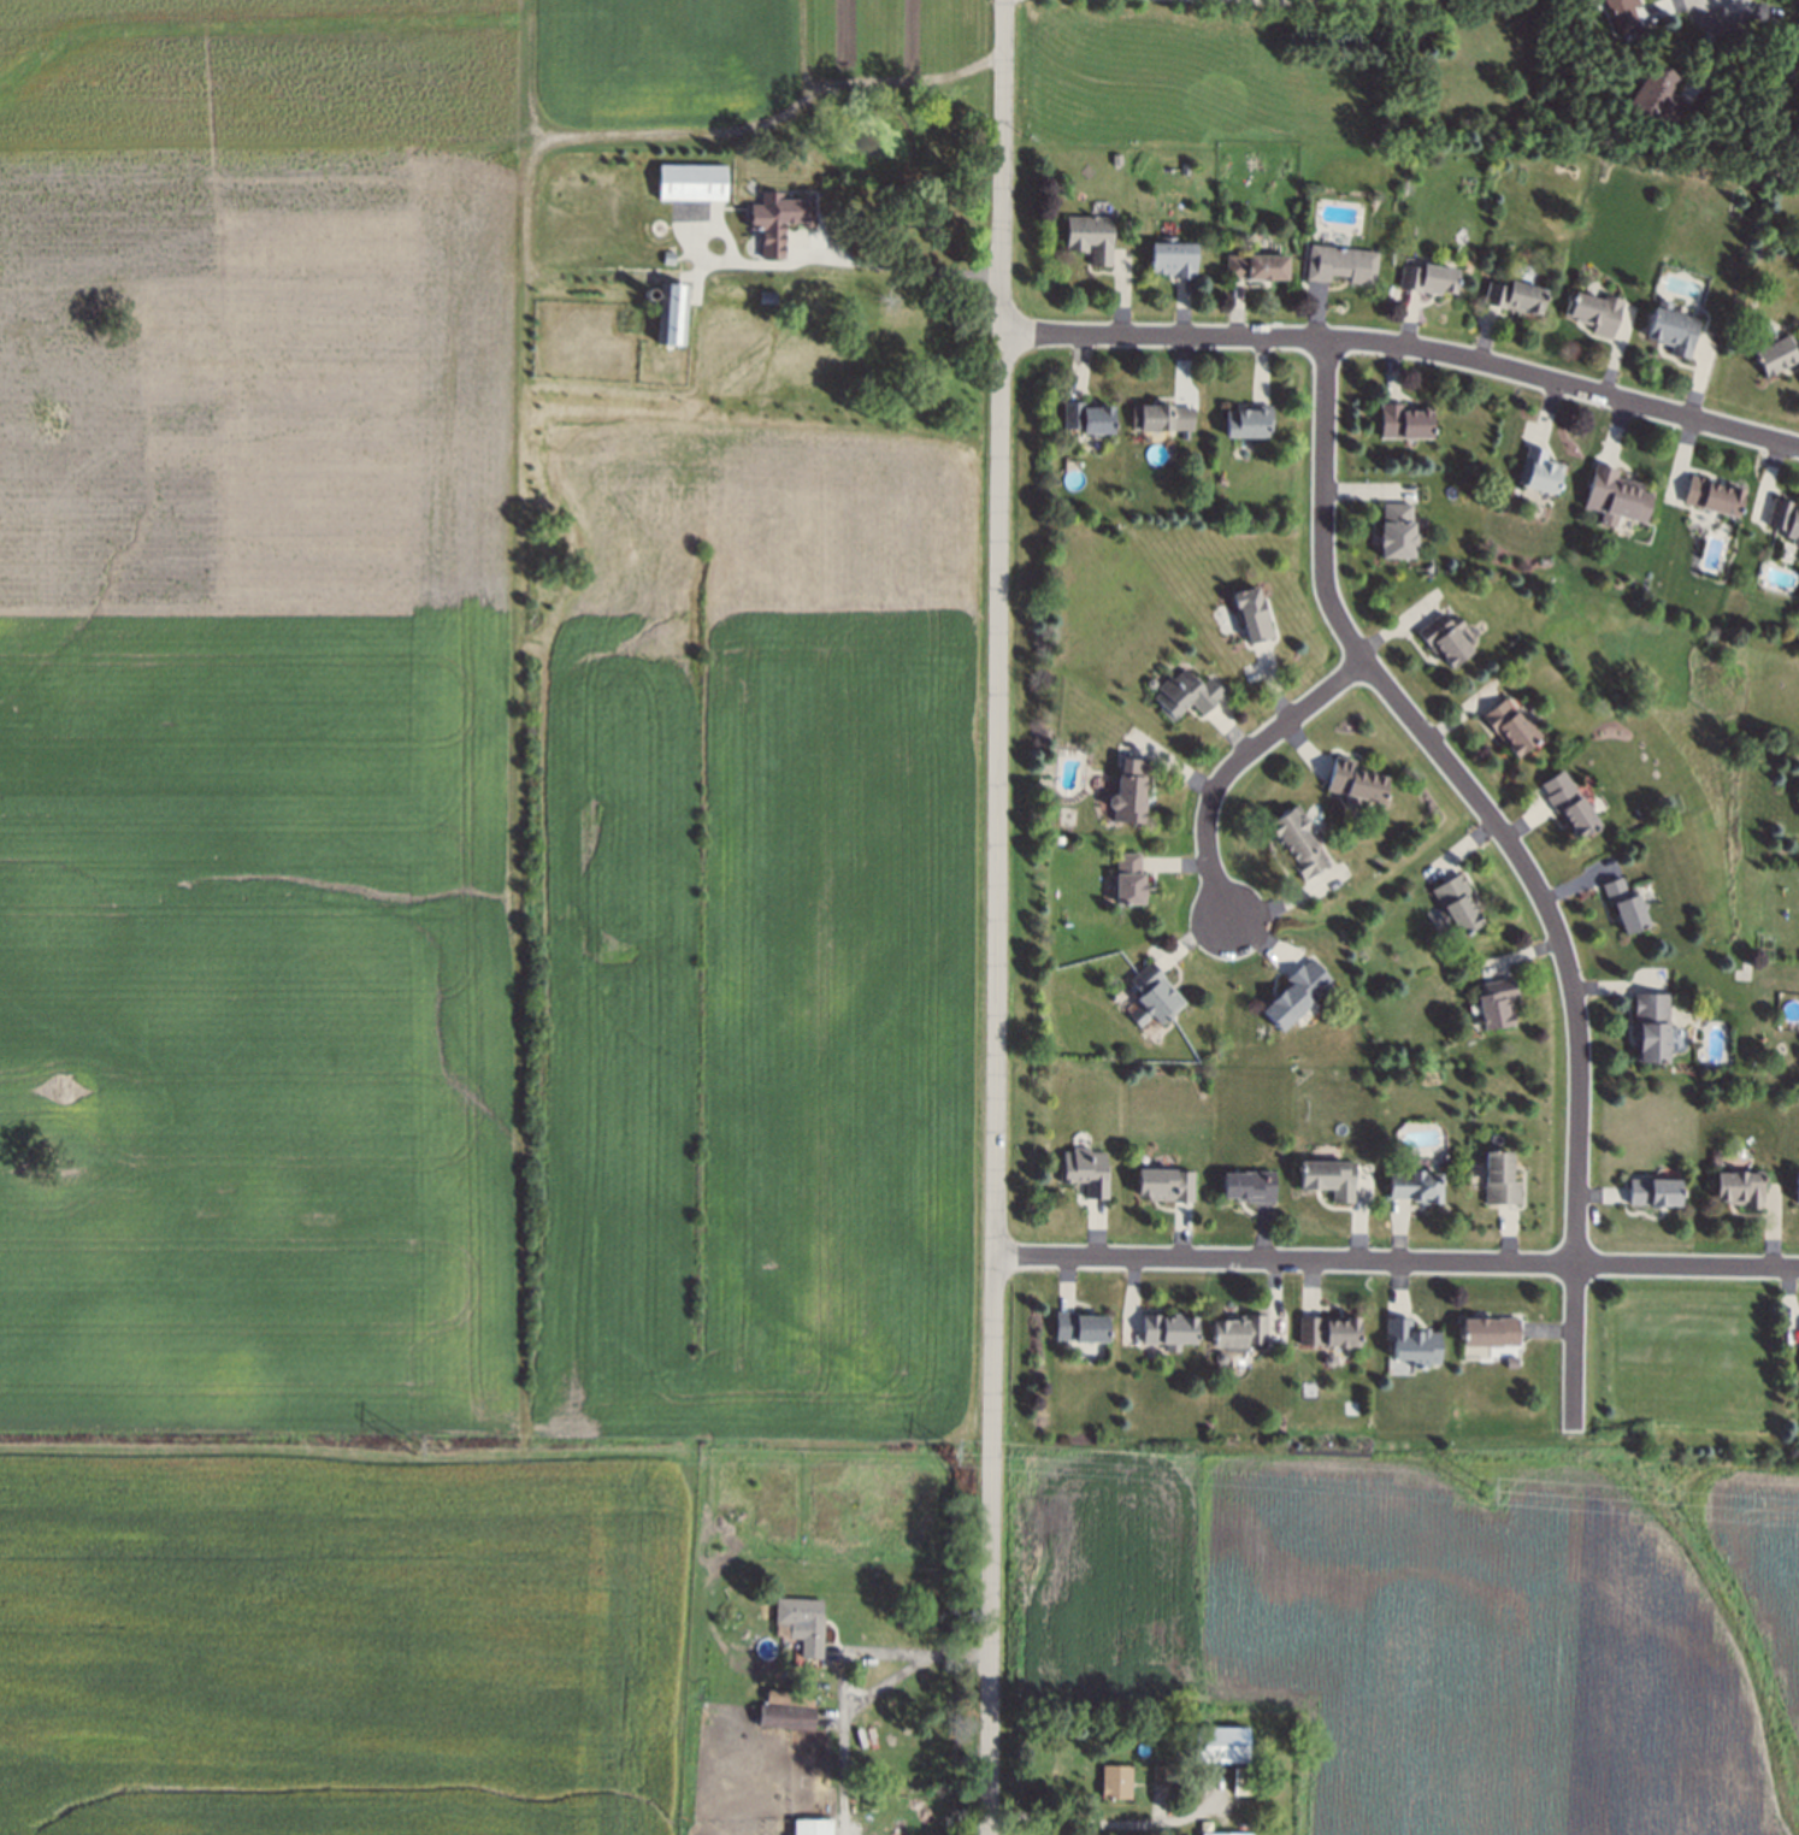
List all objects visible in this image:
road: (1361, 1)
road: (1714, 4)
building: (1622, 14)
building: (1795, 42)
building: (1781, 70)
building: (1661, 99)
road: (672, 119)
building: (690, 183)
building: (779, 219)
building: (657, 228)
building: (1091, 240)
building: (1172, 259)
building: (667, 260)
road: (896, 264)
building: (1341, 266)
building: (1256, 267)
building: (1427, 281)
building: (648, 294)
building: (766, 299)
building: (1515, 299)
building: (1594, 314)
building: (674, 315)
building: (1673, 330)
road: (1403, 354)
building: (1775, 356)
building: (1162, 418)
building: (1090, 420)
building: (1249, 424)
building: (1404, 424)
building: (1539, 472)
building: (1611, 496)
building: (1712, 497)
building: (1785, 515)
building: (1397, 533)
building: (1252, 615)
building: (1445, 641)
building: (1184, 696)
building: (1510, 730)
road: (1233, 766)
building: (1353, 784)
building: (1129, 792)
building: (1565, 806)
building: (1298, 845)
road: (1517, 857)
building: (1128, 881)
building: (1456, 907)
building: (1624, 907)
road: (995, 916)
building: (1155, 993)
building: (1296, 996)
building: (1496, 1005)
building: (1650, 1029)
building: (1323, 1175)
building: (1080, 1178)
building: (1497, 1181)
building: (1797, 1182)
building: (1412, 1184)
building: (1163, 1186)
building: (1249, 1187)
building: (1740, 1190)
building: (1653, 1193)
road: (1396, 1261)
building: (1072, 1329)
building: (1233, 1330)
building: (1158, 1333)
building: (1322, 1333)
building: (1488, 1333)
building: (1409, 1343)
building: (1397, 1365)
building: (1798, 1373)
building: (801, 1625)
road: (843, 1671)
road: (884, 1681)
building: (791, 1699)
building: (783, 1717)
building: (1217, 1746)
building: (1162, 1778)
building: (1239, 1782)
building: (1113, 1783)
building: (810, 1827)
road: (1098, 1827)
building: (1204, 1829)
building: (1215, 1834)

